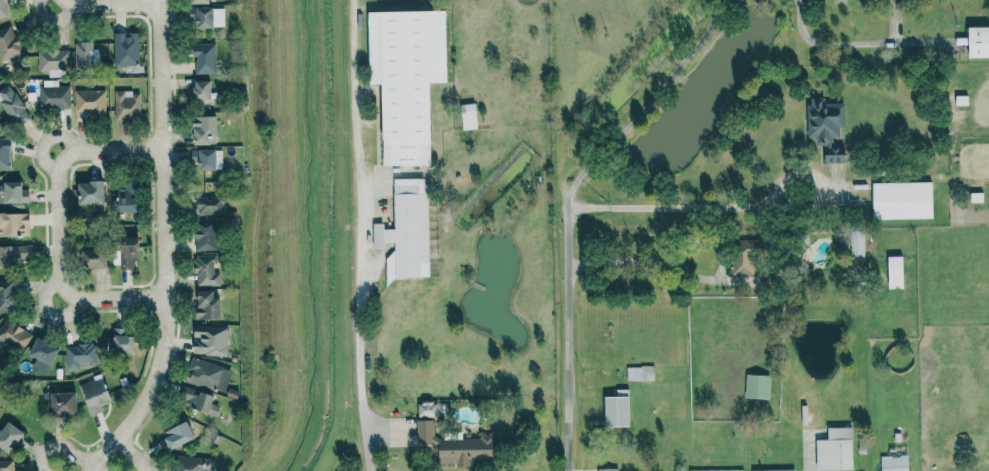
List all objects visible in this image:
building: (198, 1)
road: (113, 3)
building: (3, 8)
building: (209, 17)
building: (978, 41)
road: (830, 43)
building: (9, 44)
building: (125, 48)
building: (82, 54)
building: (204, 57)
building: (53, 60)
building: (405, 78)
building: (201, 89)
building: (54, 94)
building: (89, 101)
road: (648, 104)
building: (12, 105)
building: (126, 105)
building: (468, 115)
building: (827, 127)
building: (203, 129)
building: (4, 153)
building: (89, 192)
building: (13, 193)
building: (209, 197)
building: (125, 199)
building: (902, 200)
road: (701, 207)
road: (59, 224)
building: (406, 229)
road: (359, 235)
building: (857, 243)
road: (165, 247)
building: (127, 248)
building: (13, 255)
building: (92, 258)
building: (742, 258)
road: (637, 261)
building: (206, 269)
building: (894, 272)
building: (6, 294)
building: (206, 305)
building: (11, 333)
building: (209, 340)
road: (567, 340)
building: (121, 341)
building: (42, 350)
building: (79, 354)
building: (640, 373)
building: (208, 374)
building: (757, 386)
building: (94, 395)
building: (198, 400)
building: (62, 404)
building: (427, 409)
building: (8, 436)
building: (176, 436)
road: (59, 445)
building: (456, 446)
building: (835, 449)
road: (132, 453)
road: (811, 456)
building: (190, 463)
building: (894, 463)
building: (5, 465)
road: (96, 468)
building: (608, 469)
building: (774, 470)

